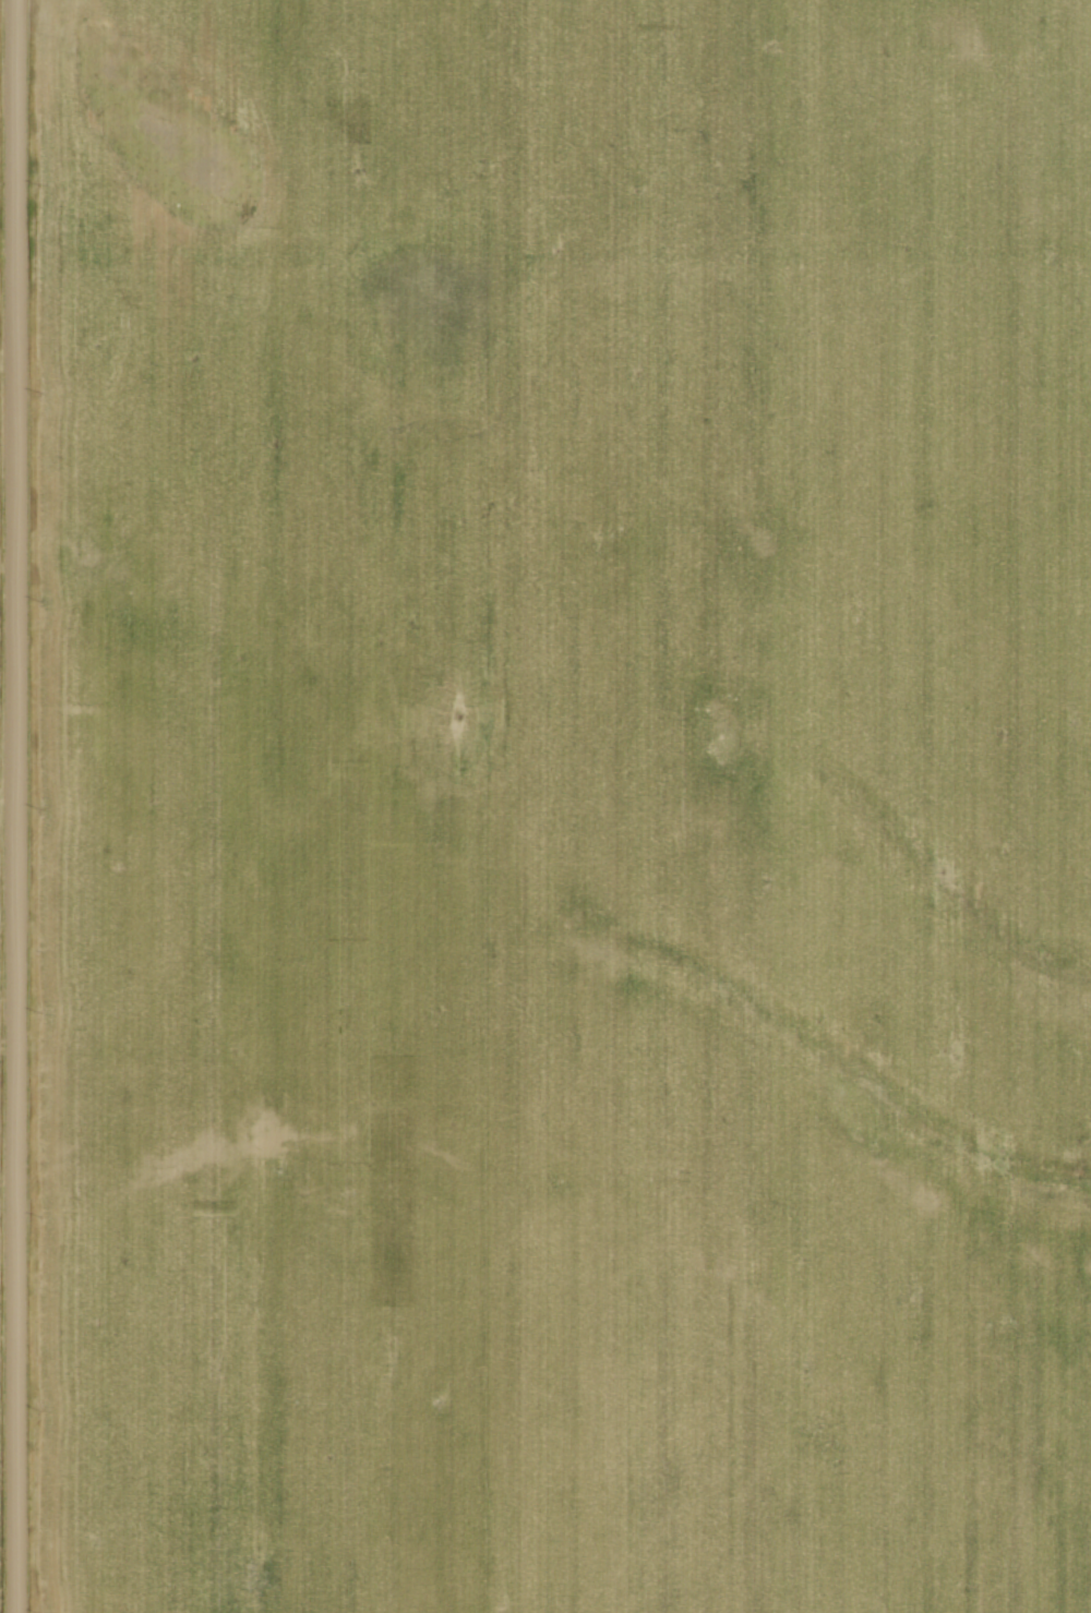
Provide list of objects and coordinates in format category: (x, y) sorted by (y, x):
road: (15, 806)
crop: (565, 806)

